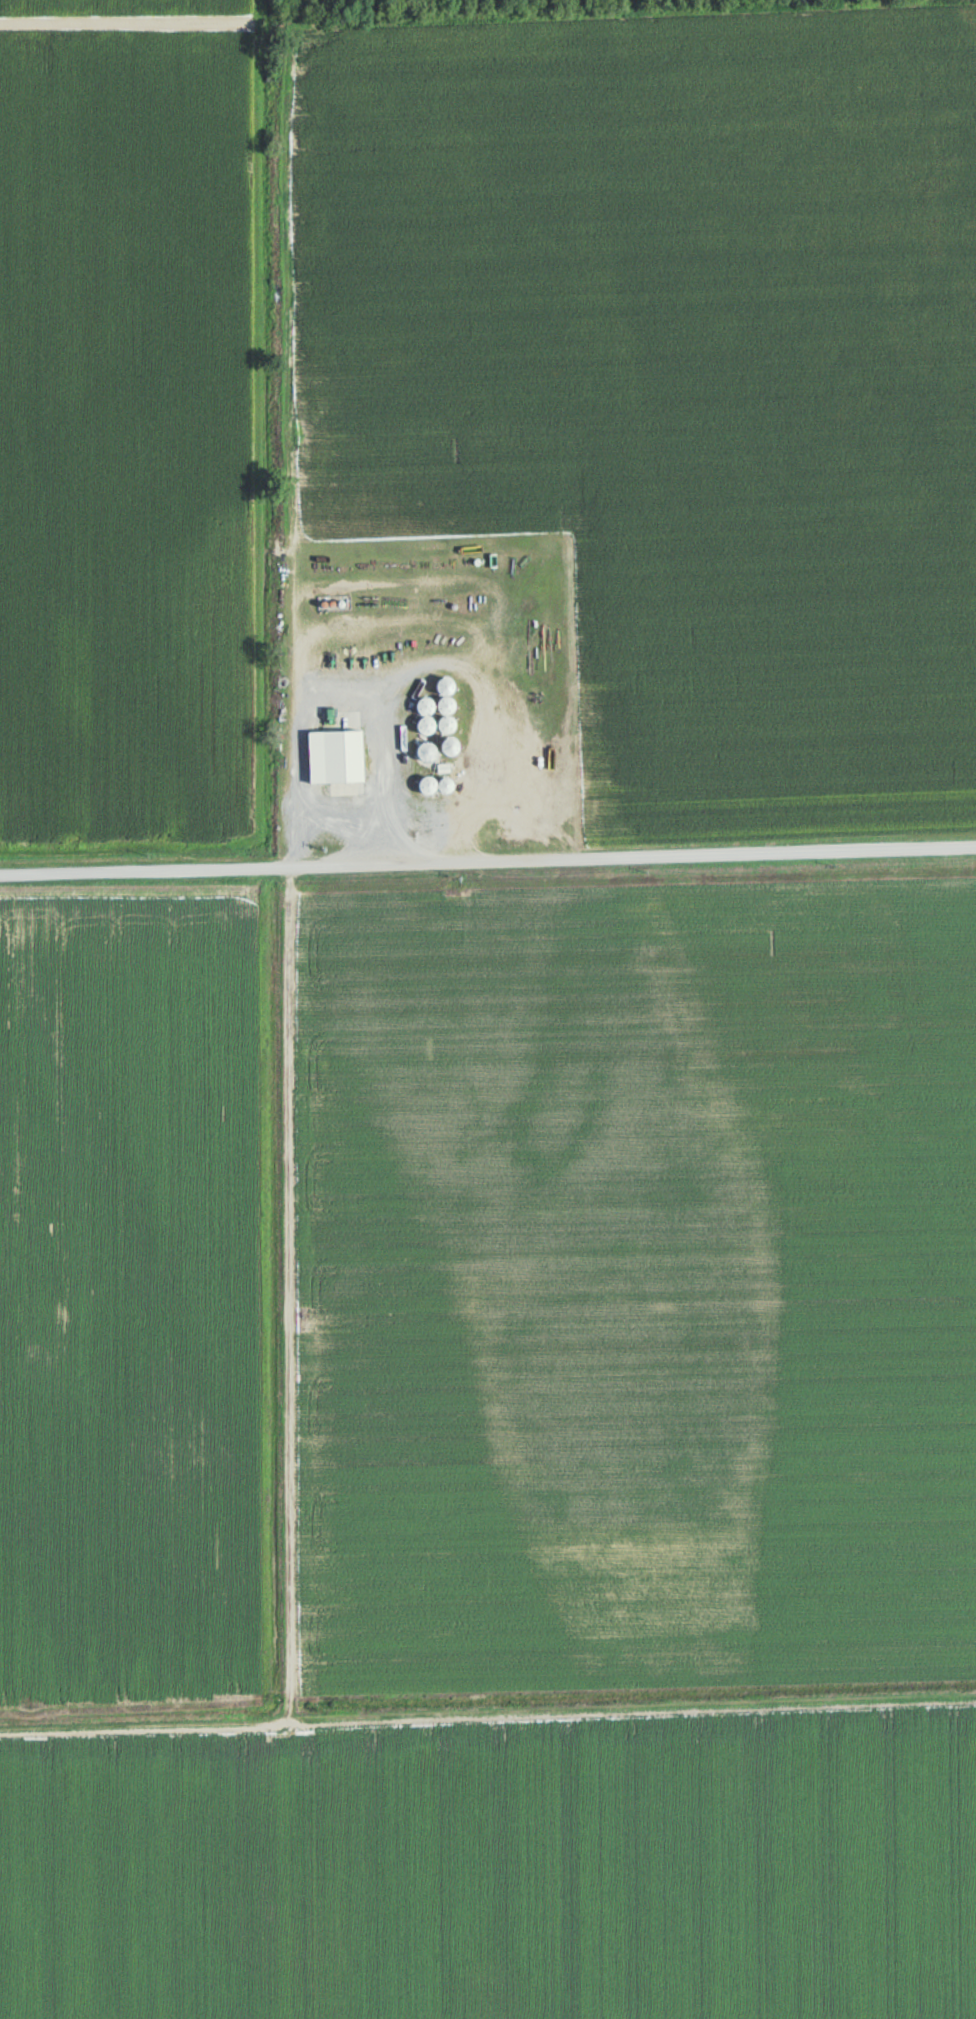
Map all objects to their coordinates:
building: (332, 756)
road: (488, 859)

